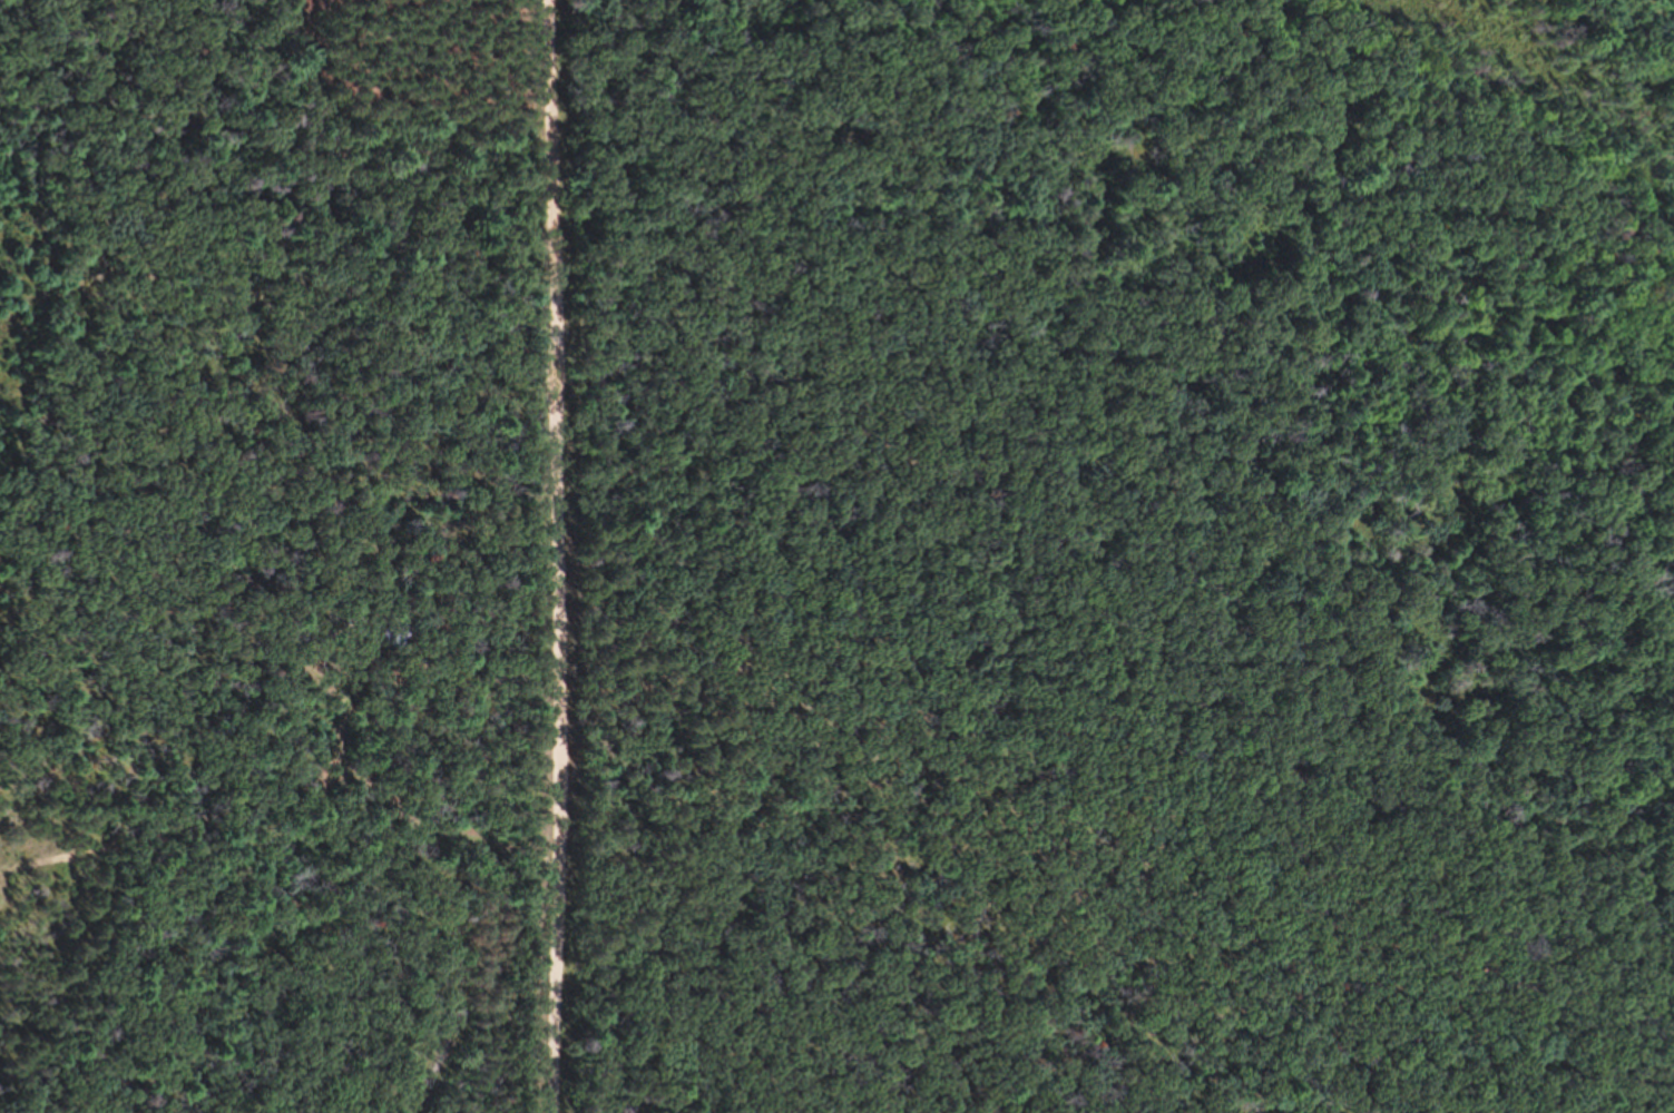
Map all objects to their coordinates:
road: (559, 556)

